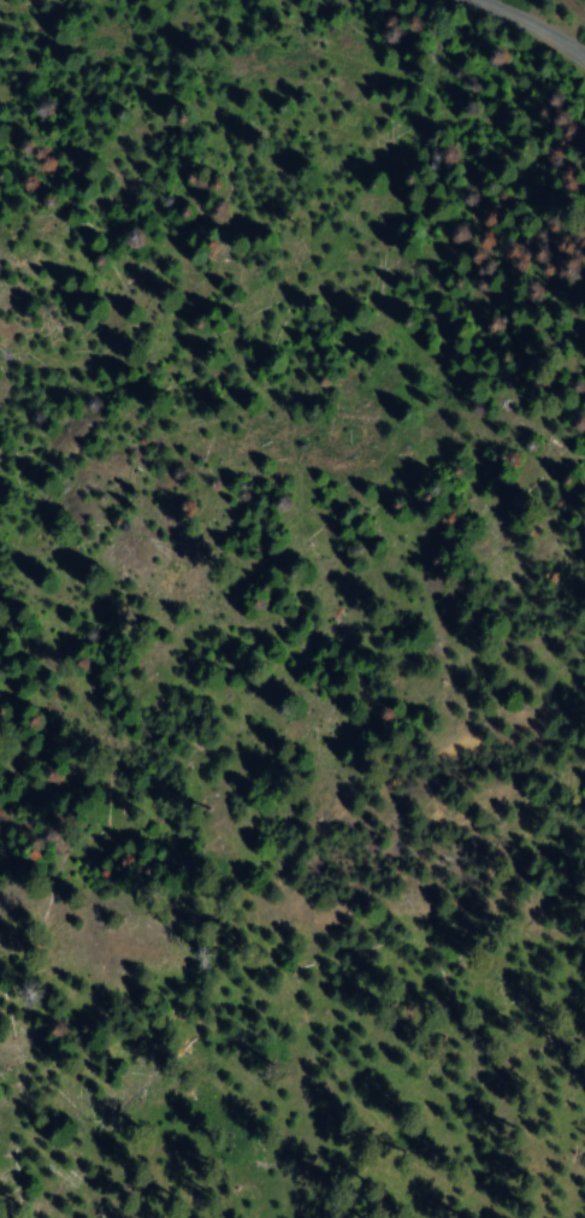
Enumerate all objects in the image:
road: (526, 24)

